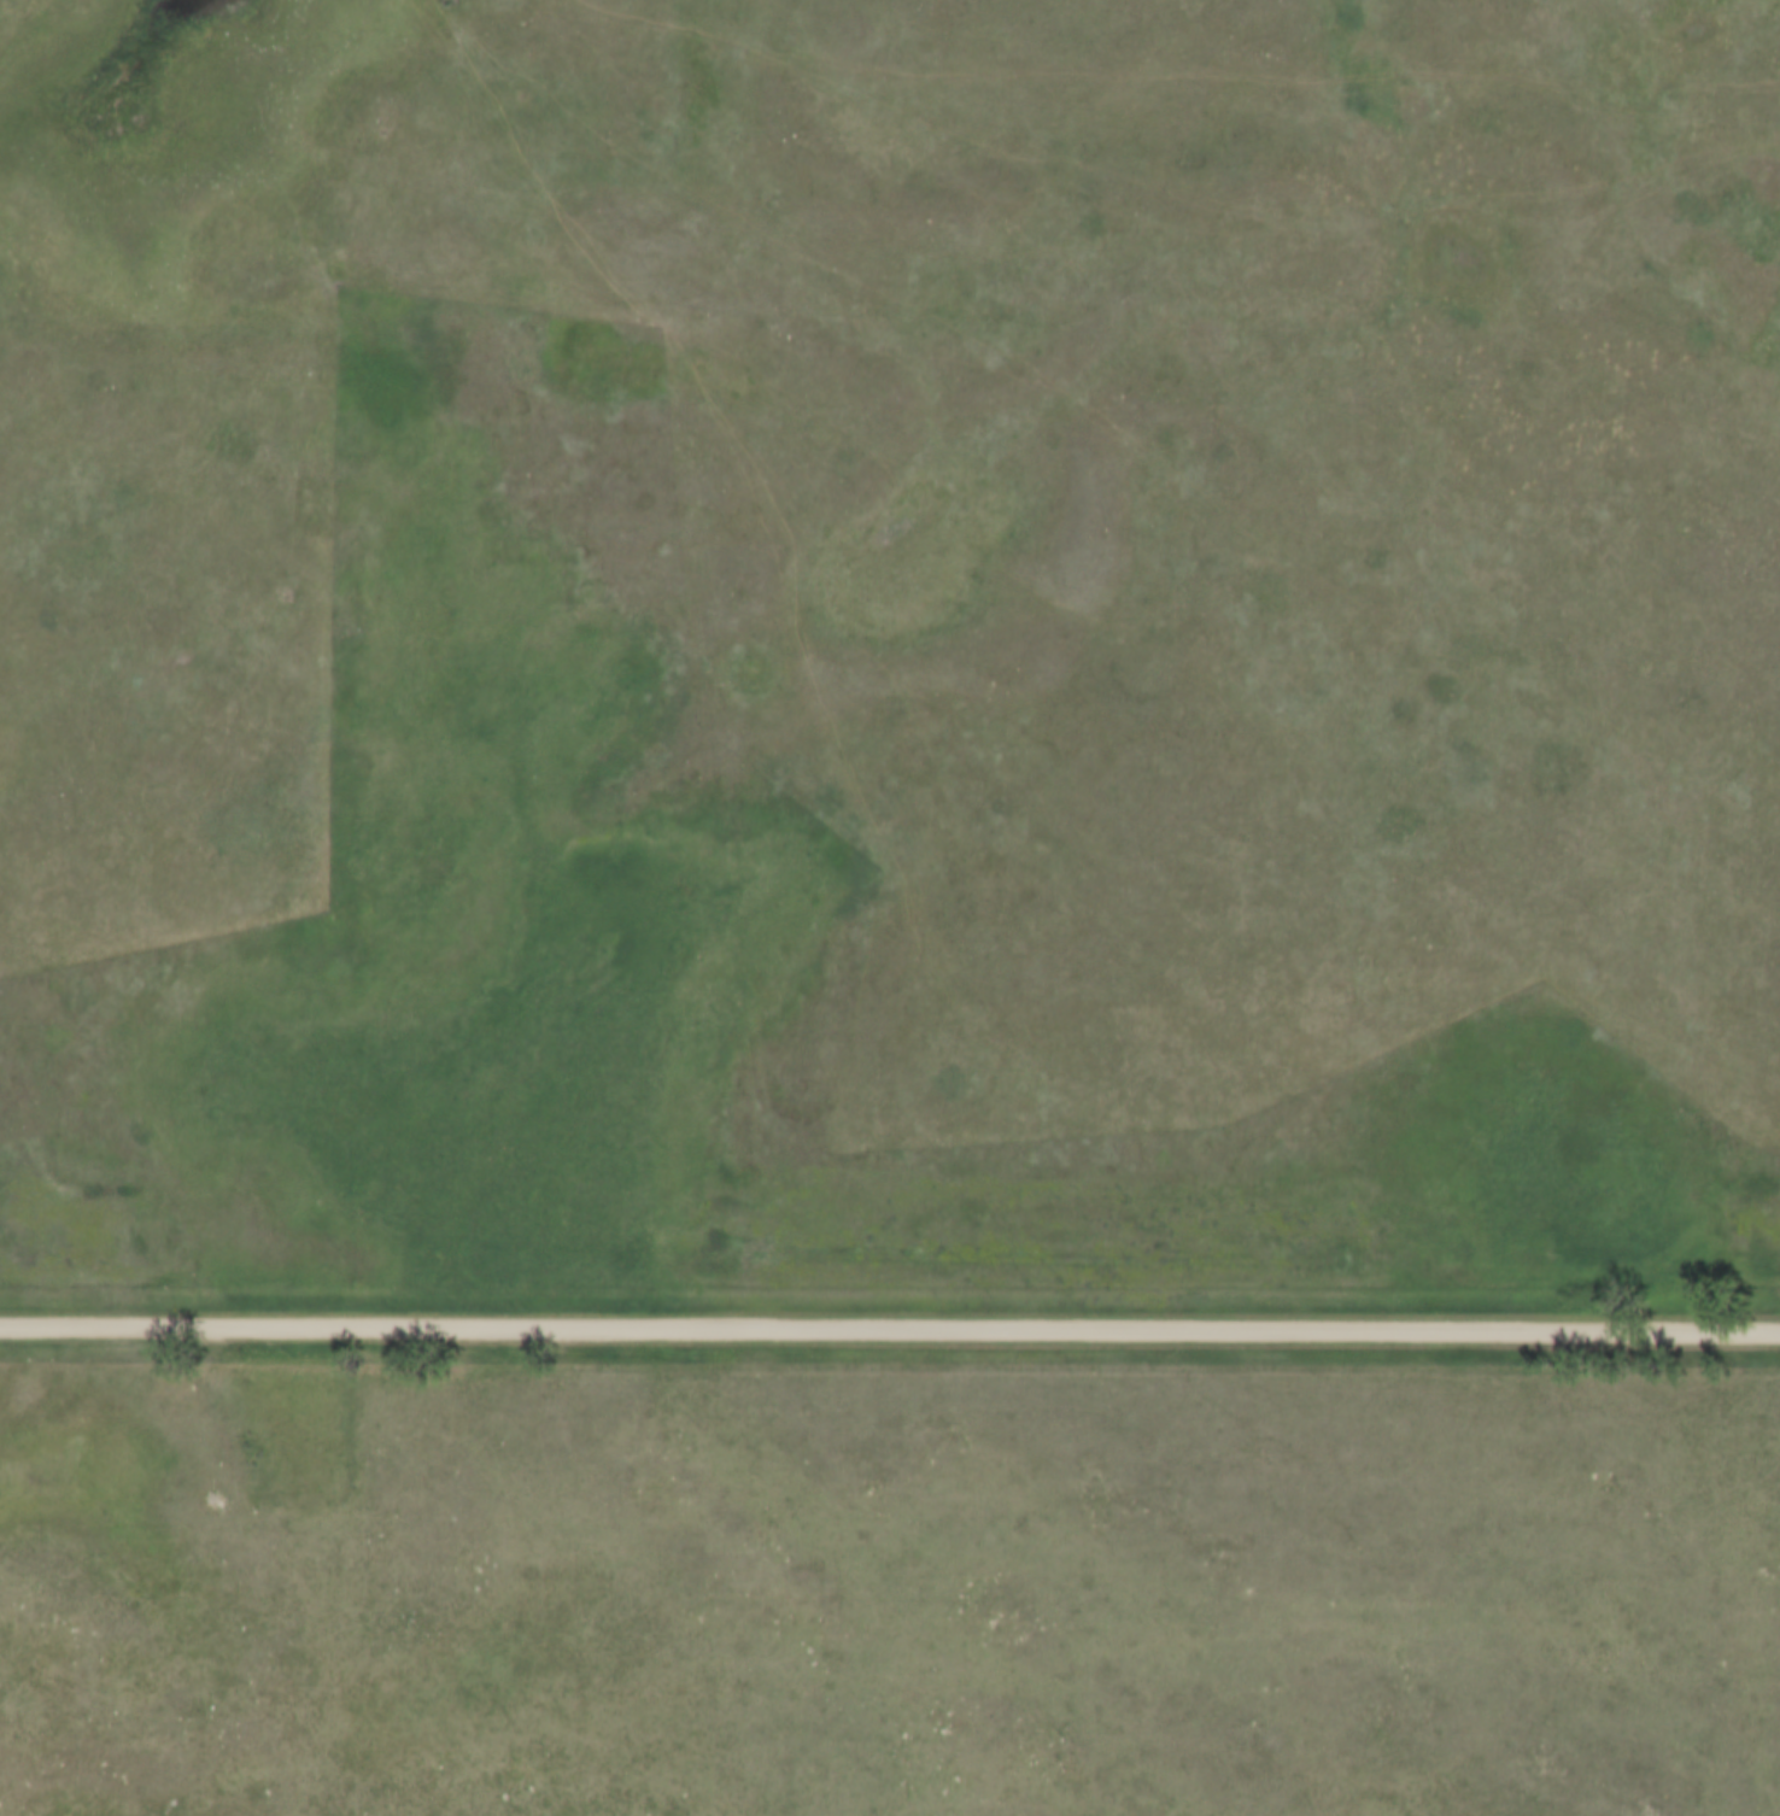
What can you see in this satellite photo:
road: (889, 1329)

